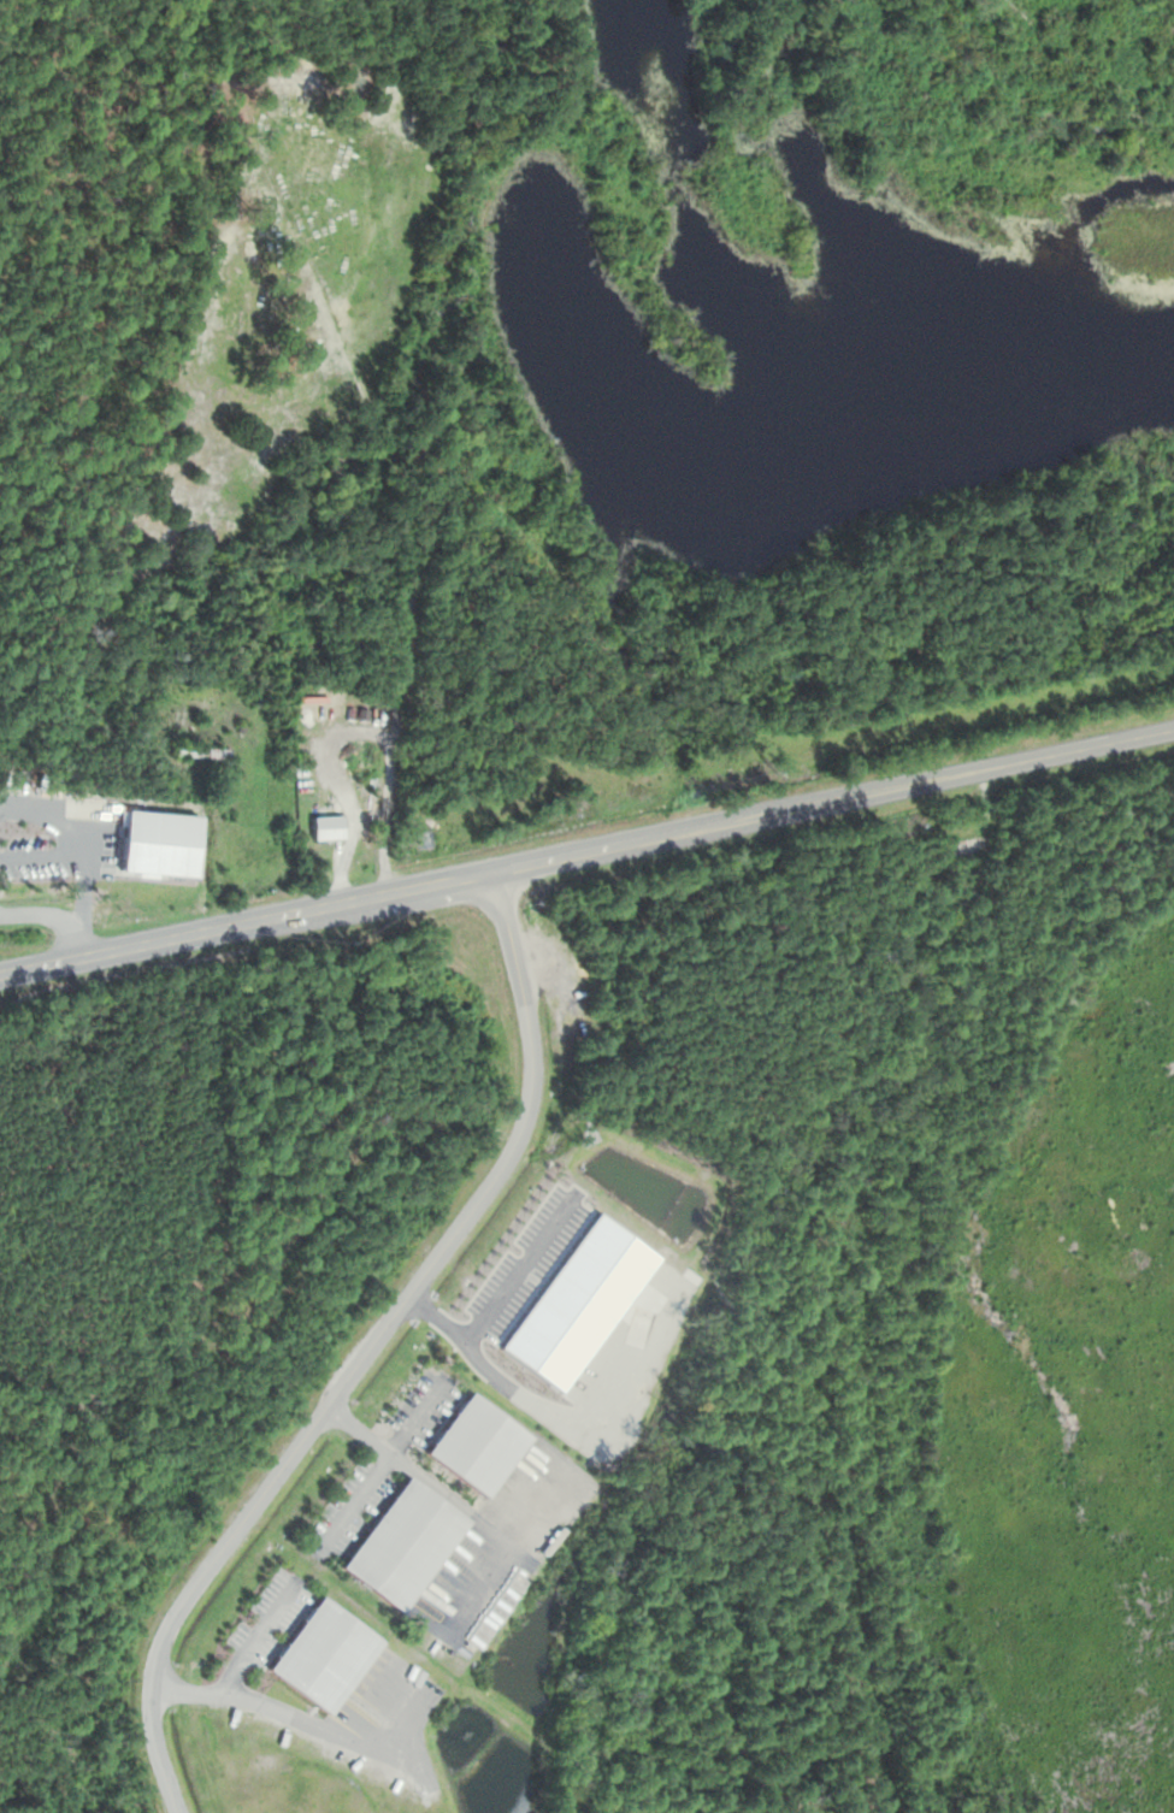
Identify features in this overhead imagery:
park: (300, 282)
building: (326, 829)
road: (586, 851)
road: (52, 914)
road: (364, 1350)
building: (476, 1447)
road: (382, 1463)
road: (456, 1502)
building: (402, 1546)
building: (320, 1658)
road: (230, 1666)
road: (324, 1726)

